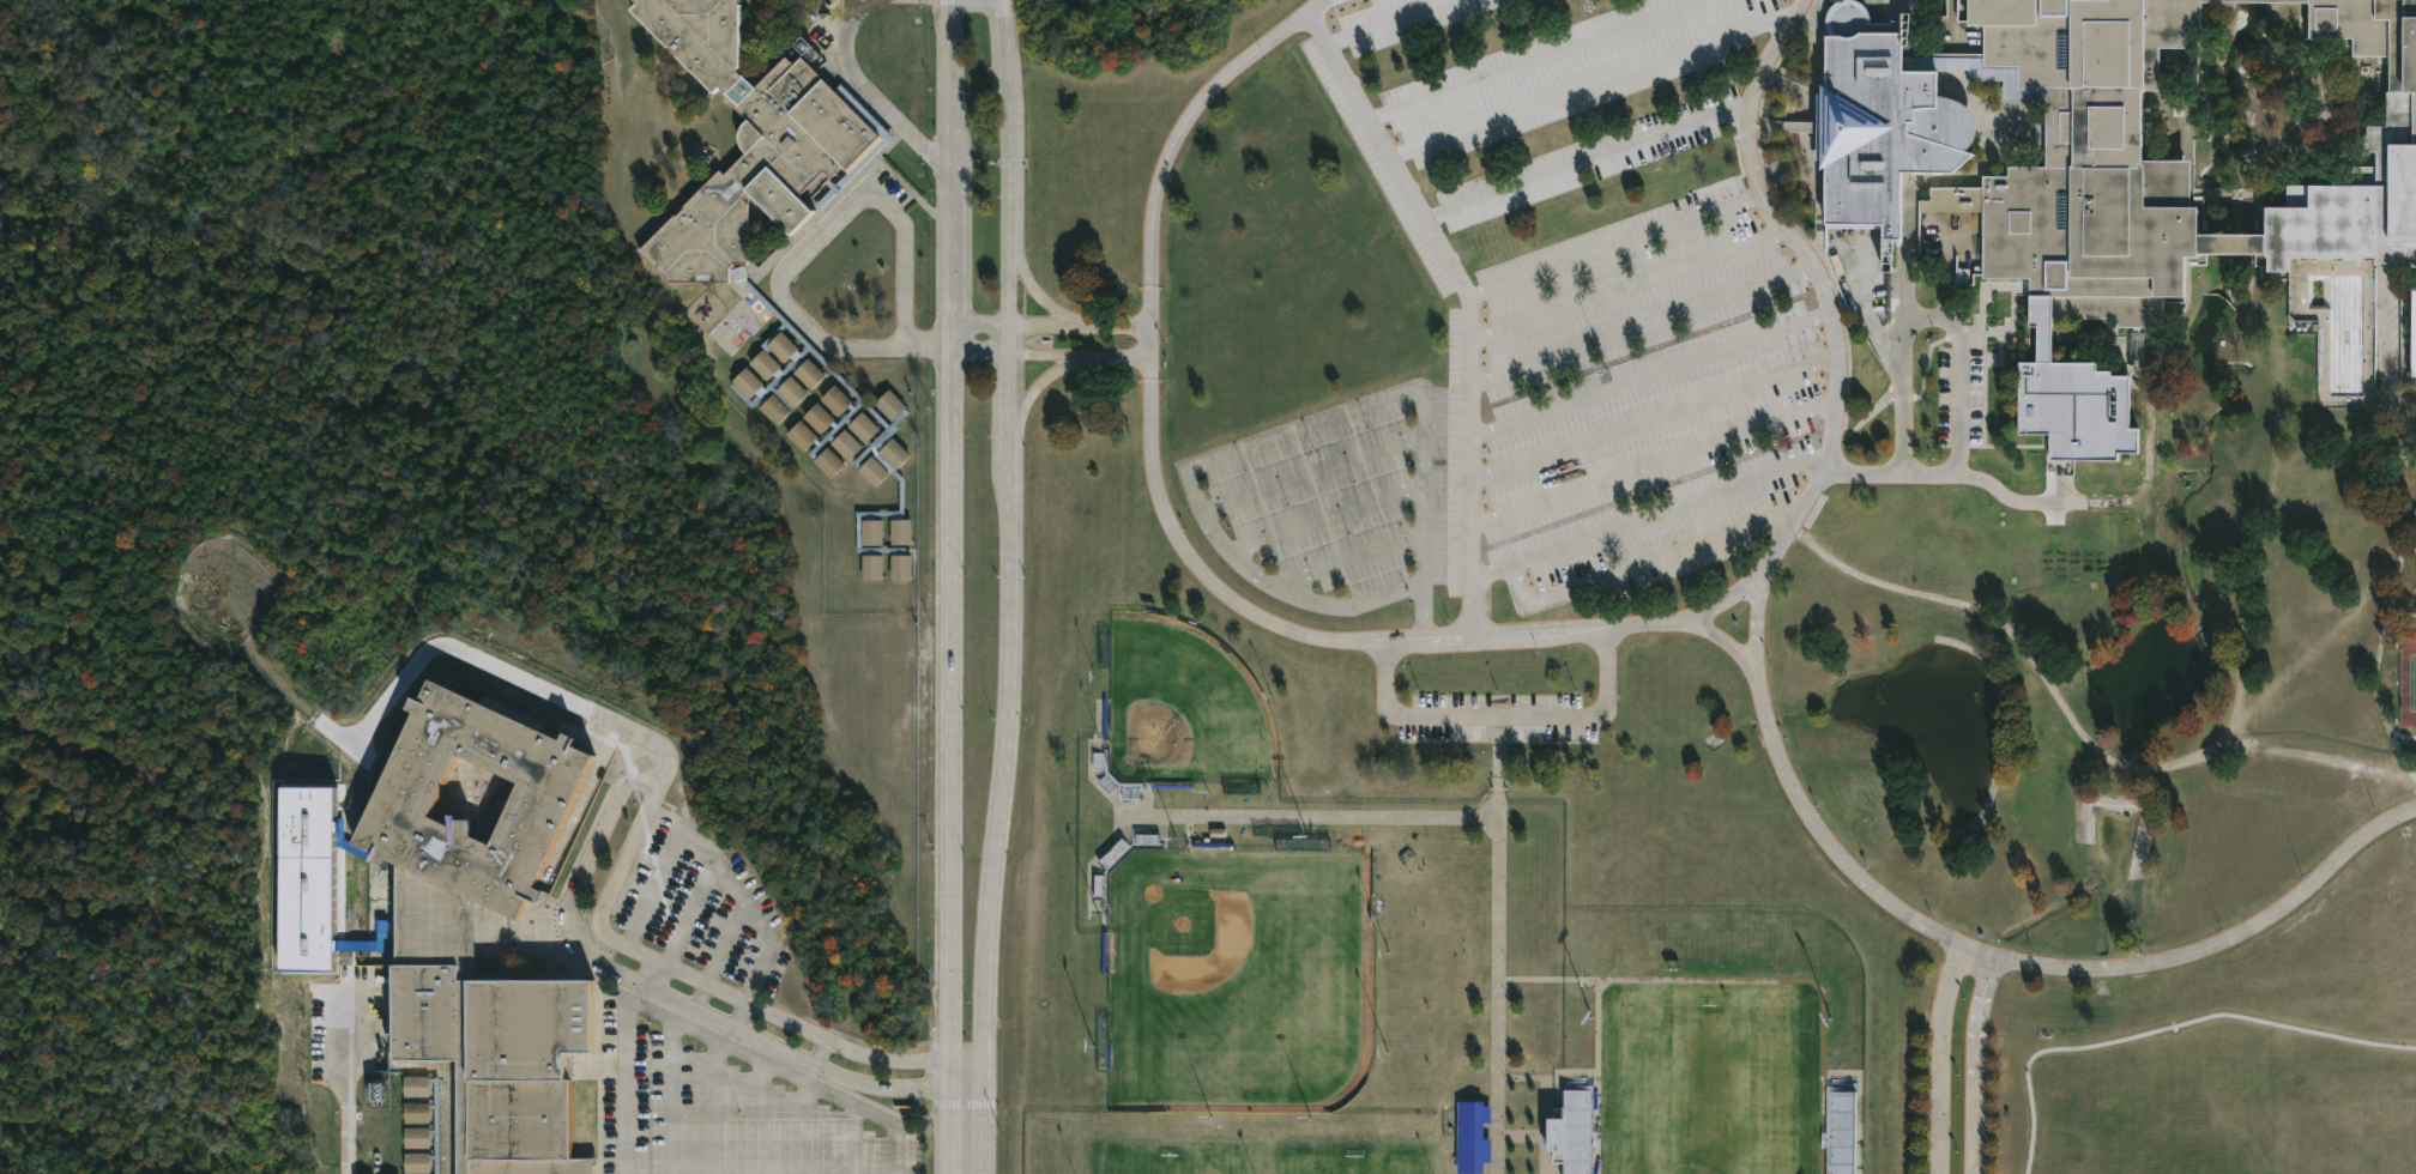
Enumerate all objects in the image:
building: (2253, 0)
road: (869, 1)
road: (858, 2)
building: (1853, 20)
road: (1383, 22)
road: (1541, 60)
road: (1595, 85)
road: (864, 90)
building: (1880, 131)
building: (2391, 140)
road: (1587, 163)
building: (2084, 163)
road: (808, 246)
road: (1615, 246)
building: (2230, 246)
road: (1635, 286)
road: (1040, 293)
building: (766, 303)
road: (1472, 305)
road: (1929, 319)
road: (1079, 321)
parking lot: (1545, 321)
road: (979, 323)
road: (1647, 323)
building: (2414, 333)
parking lot: (2386, 339)
road: (1077, 352)
road: (980, 353)
road: (2385, 358)
road: (1657, 373)
road: (1046, 379)
parking lot: (1959, 398)
building: (2076, 411)
road: (1656, 419)
road: (1280, 434)
road: (2004, 448)
road: (1655, 465)
road: (1957, 472)
road: (1310, 474)
road: (2060, 483)
road: (1327, 519)
road: (1650, 521)
road: (1351, 561)
road: (950, 586)
road: (1009, 587)
road: (2392, 613)
road: (2404, 613)
road: (1756, 633)
road: (1472, 642)
road: (1733, 646)
park: (2102, 674)
park: (2412, 684)
park: (1182, 713)
parking lot: (1496, 718)
road: (1504, 720)
road: (2176, 767)
road: (621, 794)
building: (540, 801)
road: (1309, 816)
building: (1292, 846)
parking lot: (706, 908)
road: (681, 920)
building: (433, 926)
road: (1498, 946)
road: (725, 950)
road: (2036, 966)
park: (1232, 979)
road: (1548, 981)
road: (1806, 982)
road: (2166, 1028)
road: (1937, 1057)
building: (500, 1063)
road: (966, 1063)
road: (1973, 1063)
road: (1599, 1077)
park: (1709, 1082)
road: (351, 1088)
road: (679, 1089)
road: (966, 1090)
road: (726, 1100)
road: (767, 1108)
road: (851, 1114)
parking lot: (732, 1119)
road: (805, 1119)
road: (894, 1125)
building: (1840, 1126)
building: (1570, 1131)
building: (1474, 1137)
park: (1172, 1163)
park: (1349, 1164)

